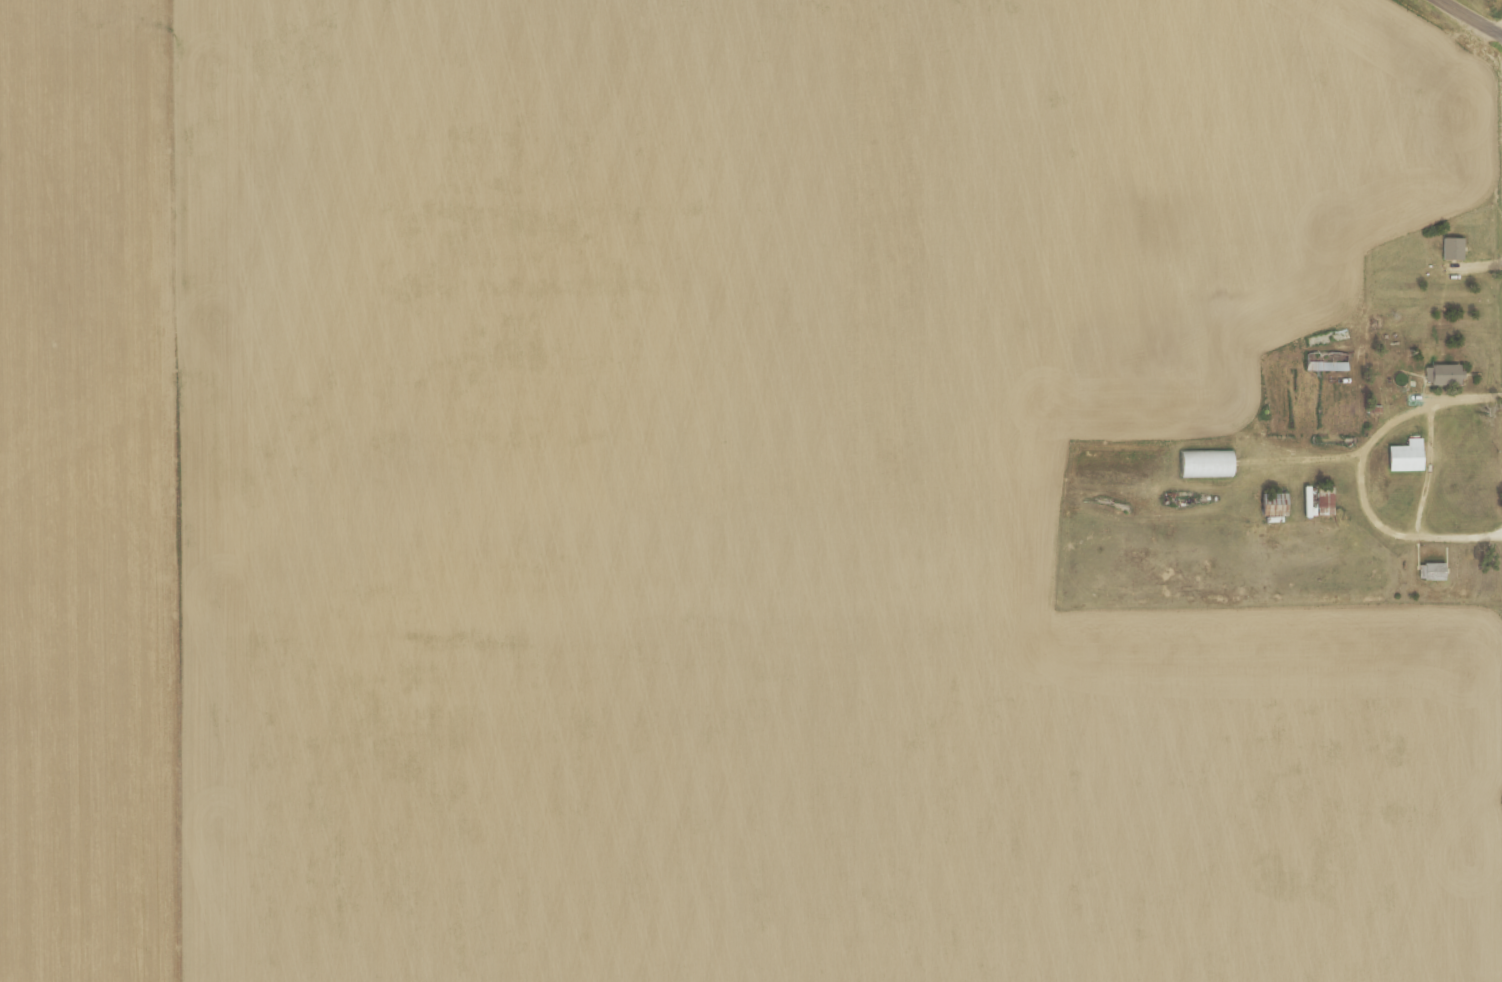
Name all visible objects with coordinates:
road: (1475, 15)
building: (1451, 248)
building: (1324, 362)
building: (1439, 375)
building: (1403, 457)
building: (1203, 464)
building: (1323, 504)
building: (1430, 572)

